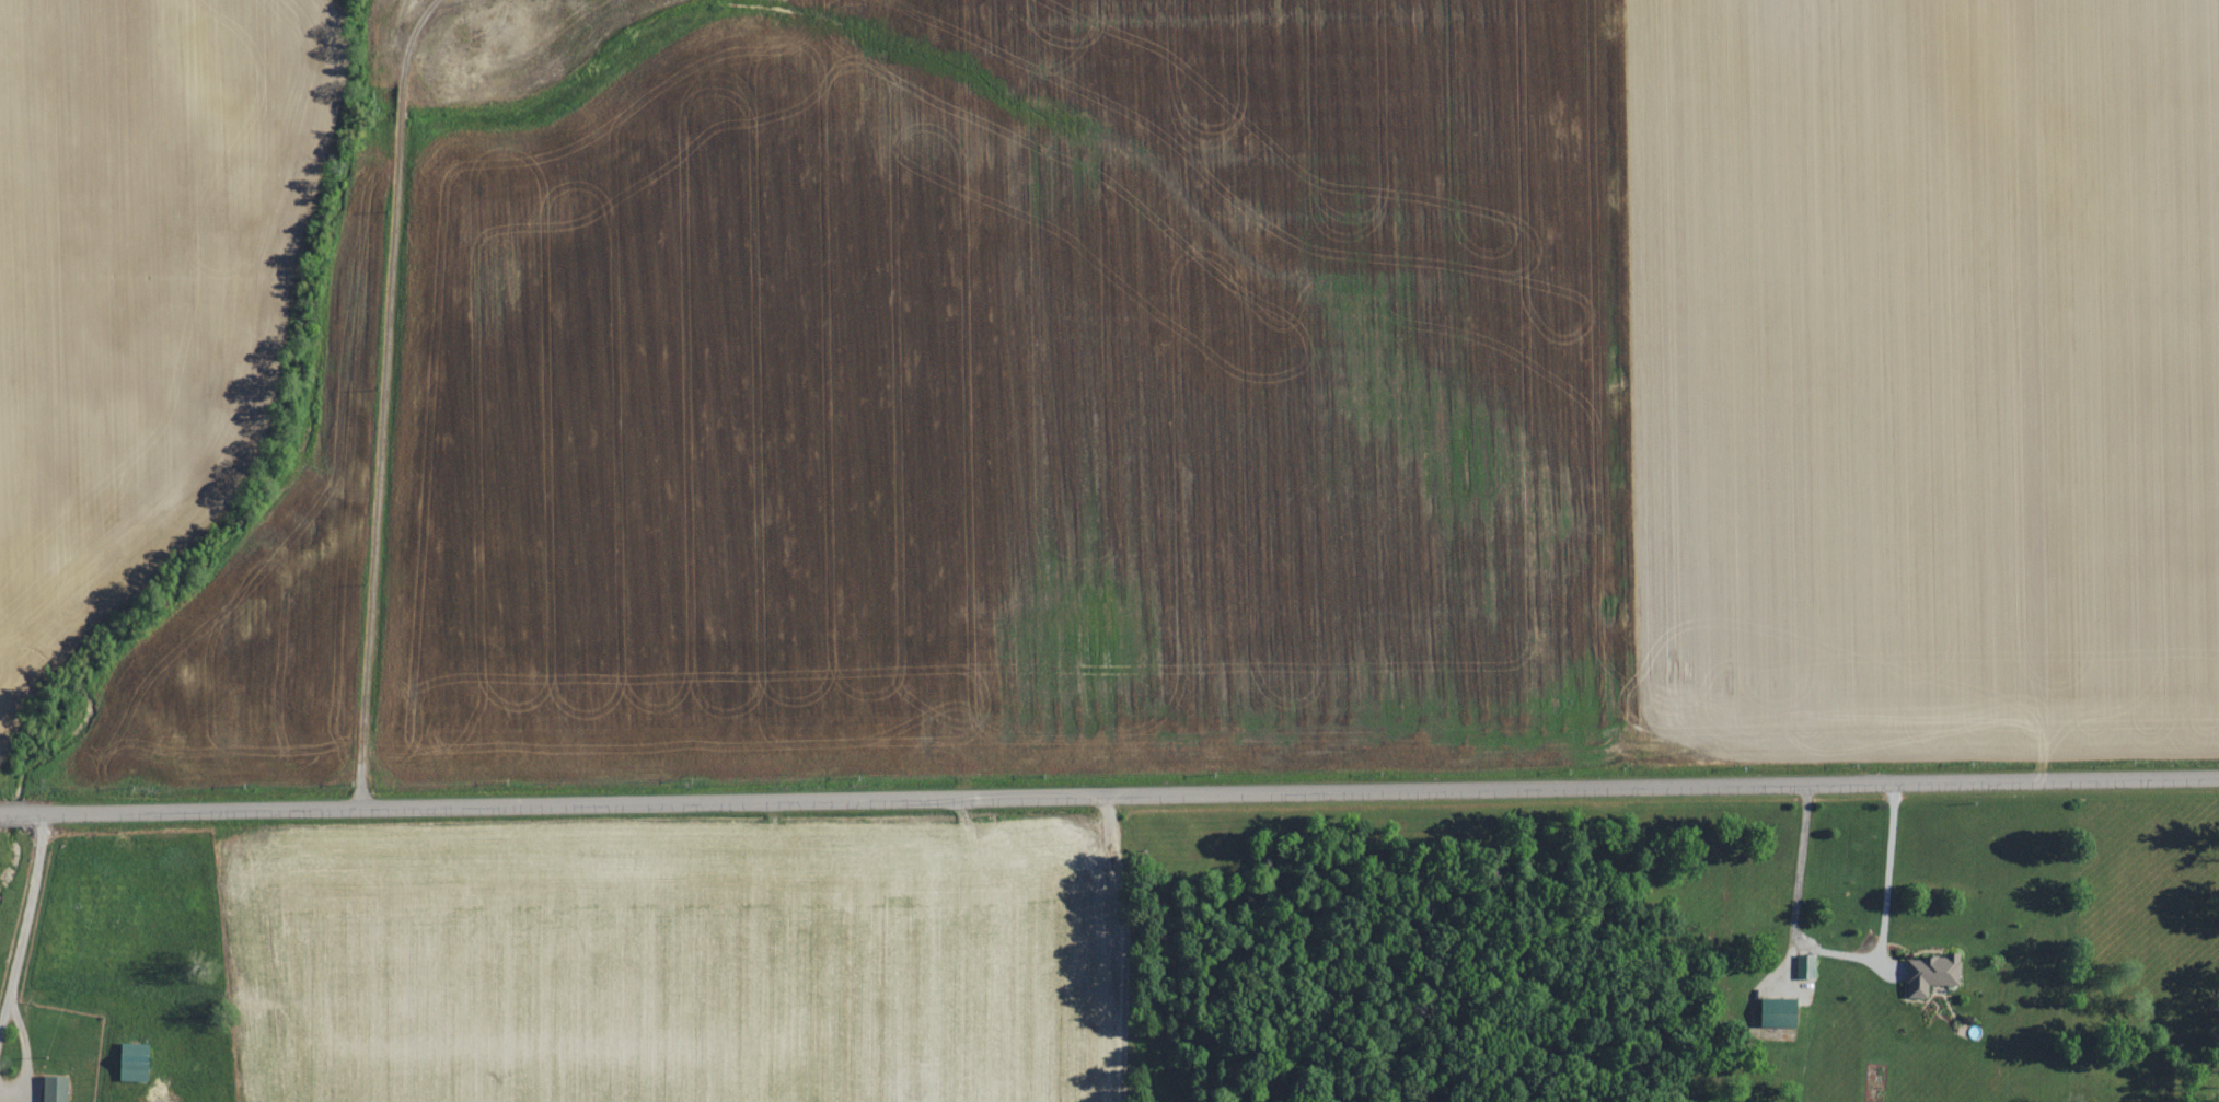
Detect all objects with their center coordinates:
road: (379, 397)
road: (1109, 794)
road: (1883, 869)
road: (24, 914)
building: (1939, 961)
building: (1919, 990)
building: (1781, 1012)
building: (135, 1063)

